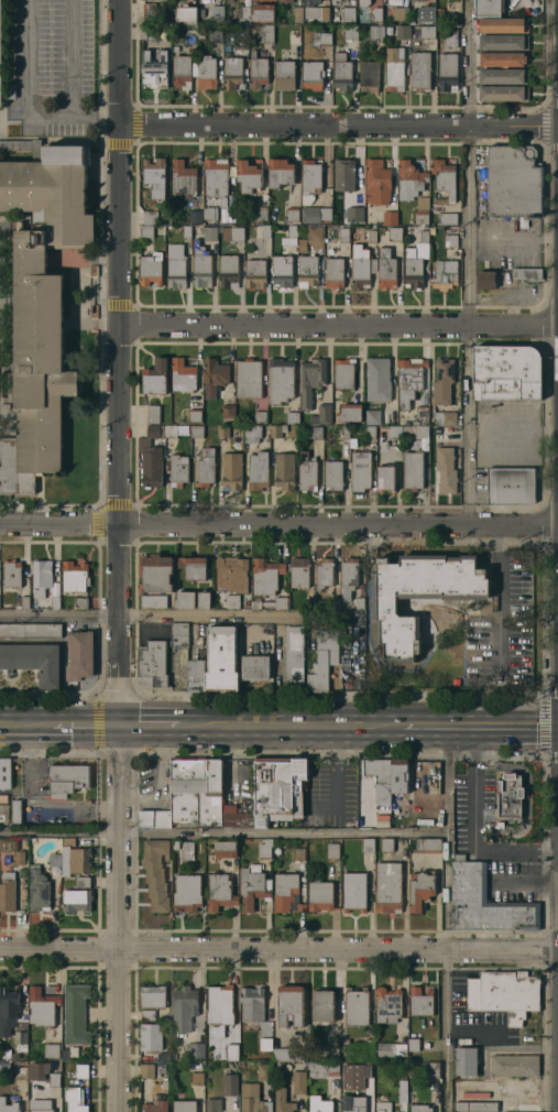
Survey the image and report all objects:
building: (285, 0)
building: (332, 1)
building: (311, 2)
building: (362, 2)
building: (489, 7)
building: (200, 11)
building: (217, 11)
building: (263, 11)
building: (149, 12)
building: (316, 12)
building: (186, 13)
building: (298, 13)
building: (348, 13)
building: (375, 13)
building: (400, 13)
building: (243, 14)
building: (428, 14)
building: (280, 20)
building: (503, 24)
building: (152, 31)
building: (425, 31)
building: (351, 32)
building: (375, 32)
building: (390, 32)
building: (403, 32)
building: (265, 33)
building: (200, 35)
building: (244, 35)
building: (450, 35)
building: (215, 36)
building: (322, 37)
building: (503, 41)
building: (175, 47)
building: (1, 53)
building: (502, 58)
building: (394, 68)
building: (155, 69)
building: (180, 69)
building: (232, 70)
building: (419, 70)
building: (206, 72)
building: (258, 72)
building: (341, 72)
building: (447, 72)
building: (284, 74)
building: (311, 74)
building: (369, 75)
building: (504, 75)
building: (10, 90)
building: (503, 92)
road: (91, 115)
road: (46, 116)
road: (337, 127)
building: (23, 146)
building: (154, 172)
building: (280, 172)
building: (248, 175)
building: (343, 175)
building: (183, 177)
building: (444, 178)
building: (216, 179)
building: (409, 179)
building: (310, 181)
building: (513, 181)
building: (376, 182)
building: (422, 209)
building: (368, 211)
building: (210, 212)
building: (260, 212)
building: (292, 212)
building: (357, 212)
building: (314, 214)
building: (195, 215)
building: (379, 215)
building: (150, 217)
building: (390, 217)
building: (447, 218)
building: (372, 219)
building: (523, 221)
building: (146, 230)
building: (186, 230)
building: (261, 230)
building: (431, 231)
building: (208, 232)
building: (232, 232)
building: (394, 232)
building: (343, 235)
building: (289, 236)
building: (314, 236)
building: (371, 236)
building: (424, 236)
building: (450, 240)
building: (417, 250)
road: (470, 261)
building: (175, 265)
building: (201, 265)
building: (361, 265)
building: (151, 268)
building: (386, 269)
building: (308, 270)
building: (228, 271)
building: (282, 271)
building: (255, 272)
building: (335, 272)
building: (413, 272)
building: (445, 273)
building: (527, 273)
building: (486, 279)
building: (42, 305)
road: (337, 328)
road: (116, 362)
building: (507, 363)
building: (344, 372)
building: (183, 375)
building: (214, 375)
building: (155, 377)
building: (378, 378)
building: (310, 379)
building: (248, 380)
building: (280, 380)
building: (442, 380)
building: (408, 381)
building: (508, 390)
building: (228, 411)
building: (422, 411)
building: (350, 412)
building: (153, 413)
building: (325, 413)
building: (192, 414)
building: (260, 416)
building: (292, 416)
building: (380, 416)
building: (445, 416)
building: (175, 429)
building: (223, 429)
building: (277, 429)
building: (197, 430)
building: (370, 430)
building: (420, 430)
building: (252, 432)
building: (315, 432)
building: (346, 432)
building: (391, 436)
road: (518, 439)
building: (151, 457)
building: (206, 467)
building: (177, 469)
building: (413, 469)
building: (445, 469)
building: (258, 470)
building: (284, 470)
building: (360, 470)
building: (231, 471)
building: (306, 472)
building: (333, 475)
building: (385, 478)
building: (511, 486)
road: (278, 522)
road: (499, 537)
building: (194, 566)
building: (299, 571)
building: (11, 573)
building: (324, 573)
building: (231, 574)
building: (75, 576)
building: (348, 577)
building: (155, 579)
building: (46, 582)
building: (267, 584)
building: (418, 595)
building: (185, 599)
building: (204, 599)
building: (24, 601)
building: (232, 601)
building: (309, 601)
building: (80, 602)
building: (335, 602)
building: (359, 602)
building: (18, 606)
road: (499, 613)
road: (58, 614)
road: (212, 614)
building: (30, 629)
building: (177, 634)
building: (79, 654)
building: (221, 657)
building: (294, 657)
building: (324, 658)
building: (33, 661)
building: (152, 665)
building: (254, 667)
building: (196, 674)
road: (26, 723)
road: (86, 724)
road: (150, 724)
road: (291, 724)
road: (480, 726)
road: (337, 742)
road: (474, 749)
building: (418, 772)
building: (4, 773)
building: (400, 775)
building: (380, 777)
building: (67, 778)
building: (278, 787)
building: (510, 795)
building: (196, 797)
building: (3, 798)
road: (336, 798)
building: (17, 811)
building: (3, 813)
road: (474, 813)
building: (500, 824)
road: (222, 831)
building: (68, 840)
building: (368, 843)
building: (386, 844)
building: (427, 844)
building: (225, 848)
building: (264, 849)
building: (187, 850)
building: (332, 850)
building: (298, 853)
road: (516, 853)
building: (19, 857)
building: (458, 857)
building: (54, 859)
building: (75, 860)
building: (155, 872)
building: (83, 881)
building: (253, 885)
building: (387, 886)
building: (37, 888)
building: (420, 890)
building: (7, 891)
building: (353, 891)
building: (186, 892)
building: (219, 892)
building: (286, 893)
building: (319, 894)
building: (77, 900)
building: (485, 903)
road: (116, 917)
road: (446, 918)
road: (278, 953)
building: (503, 993)
building: (153, 995)
building: (420, 1001)
building: (252, 1003)
building: (289, 1004)
building: (387, 1004)
building: (322, 1005)
building: (41, 1006)
building: (355, 1006)
building: (183, 1007)
building: (8, 1009)
building: (219, 1009)
building: (75, 1013)
building: (147, 1015)
building: (151, 1036)
building: (402, 1036)
building: (20, 1037)
building: (265, 1044)
building: (357, 1044)
building: (413, 1044)
building: (391, 1048)
building: (51, 1049)
building: (195, 1049)
building: (73, 1050)
building: (231, 1051)
building: (287, 1053)
building: (310, 1053)
building: (328, 1053)
building: (64, 1055)
building: (163, 1056)
building: (466, 1060)
building: (514, 1065)
building: (321, 1068)
building: (37, 1069)
building: (80, 1069)
building: (146, 1069)
building: (431, 1069)
building: (19, 1070)
building: (263, 1071)
building: (54, 1075)
building: (354, 1075)
building: (197, 1078)
building: (298, 1081)
building: (230, 1084)
building: (164, 1087)
building: (402, 1091)
building: (74, 1099)
building: (253, 1099)
building: (282, 1101)
building: (352, 1103)
building: (212, 1104)
building: (319, 1104)
building: (8, 1105)
building: (40, 1105)
building: (184, 1105)
building: (155, 1106)
building: (382, 1106)
building: (474, 1106)
building: (420, 1108)
building: (533, 1111)

